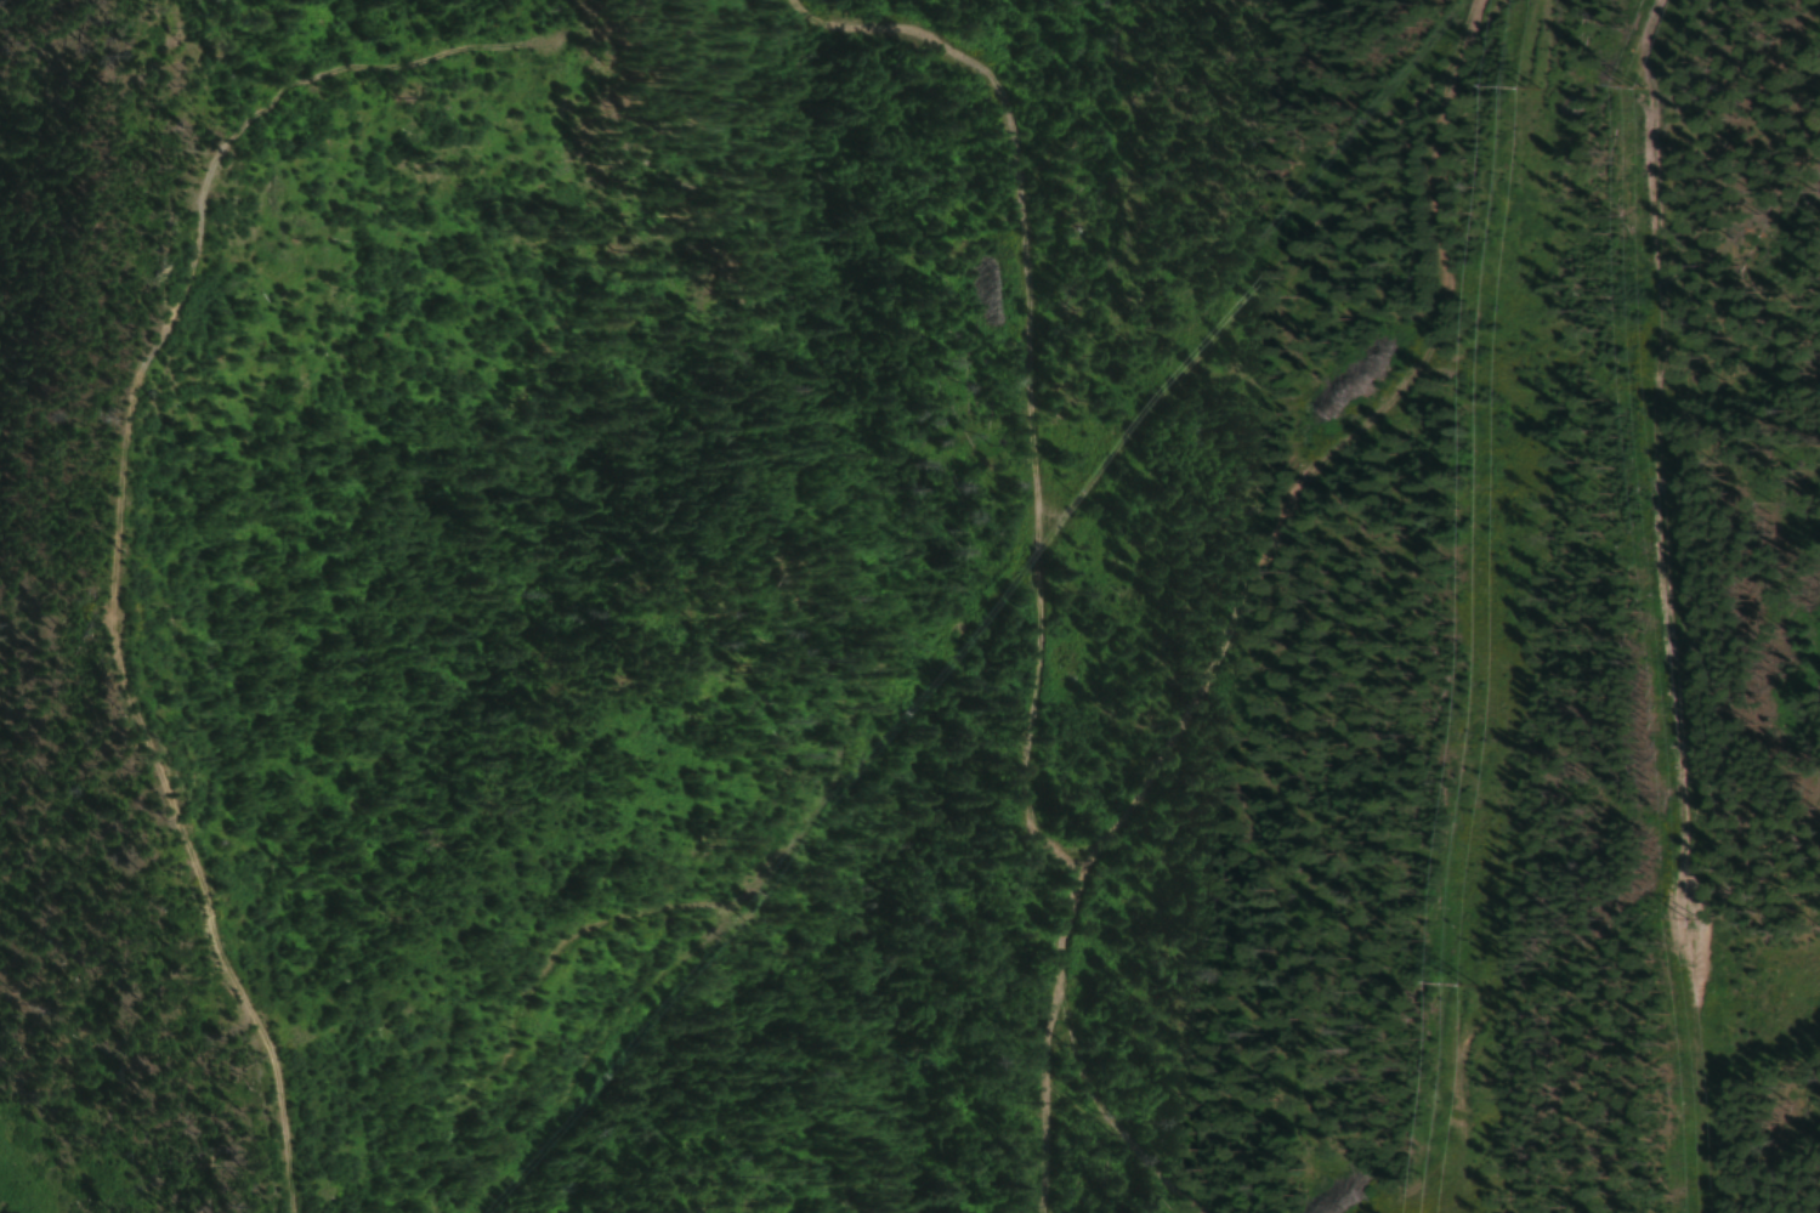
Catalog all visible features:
power tower: (1532, 89)
power tower: (1467, 984)

